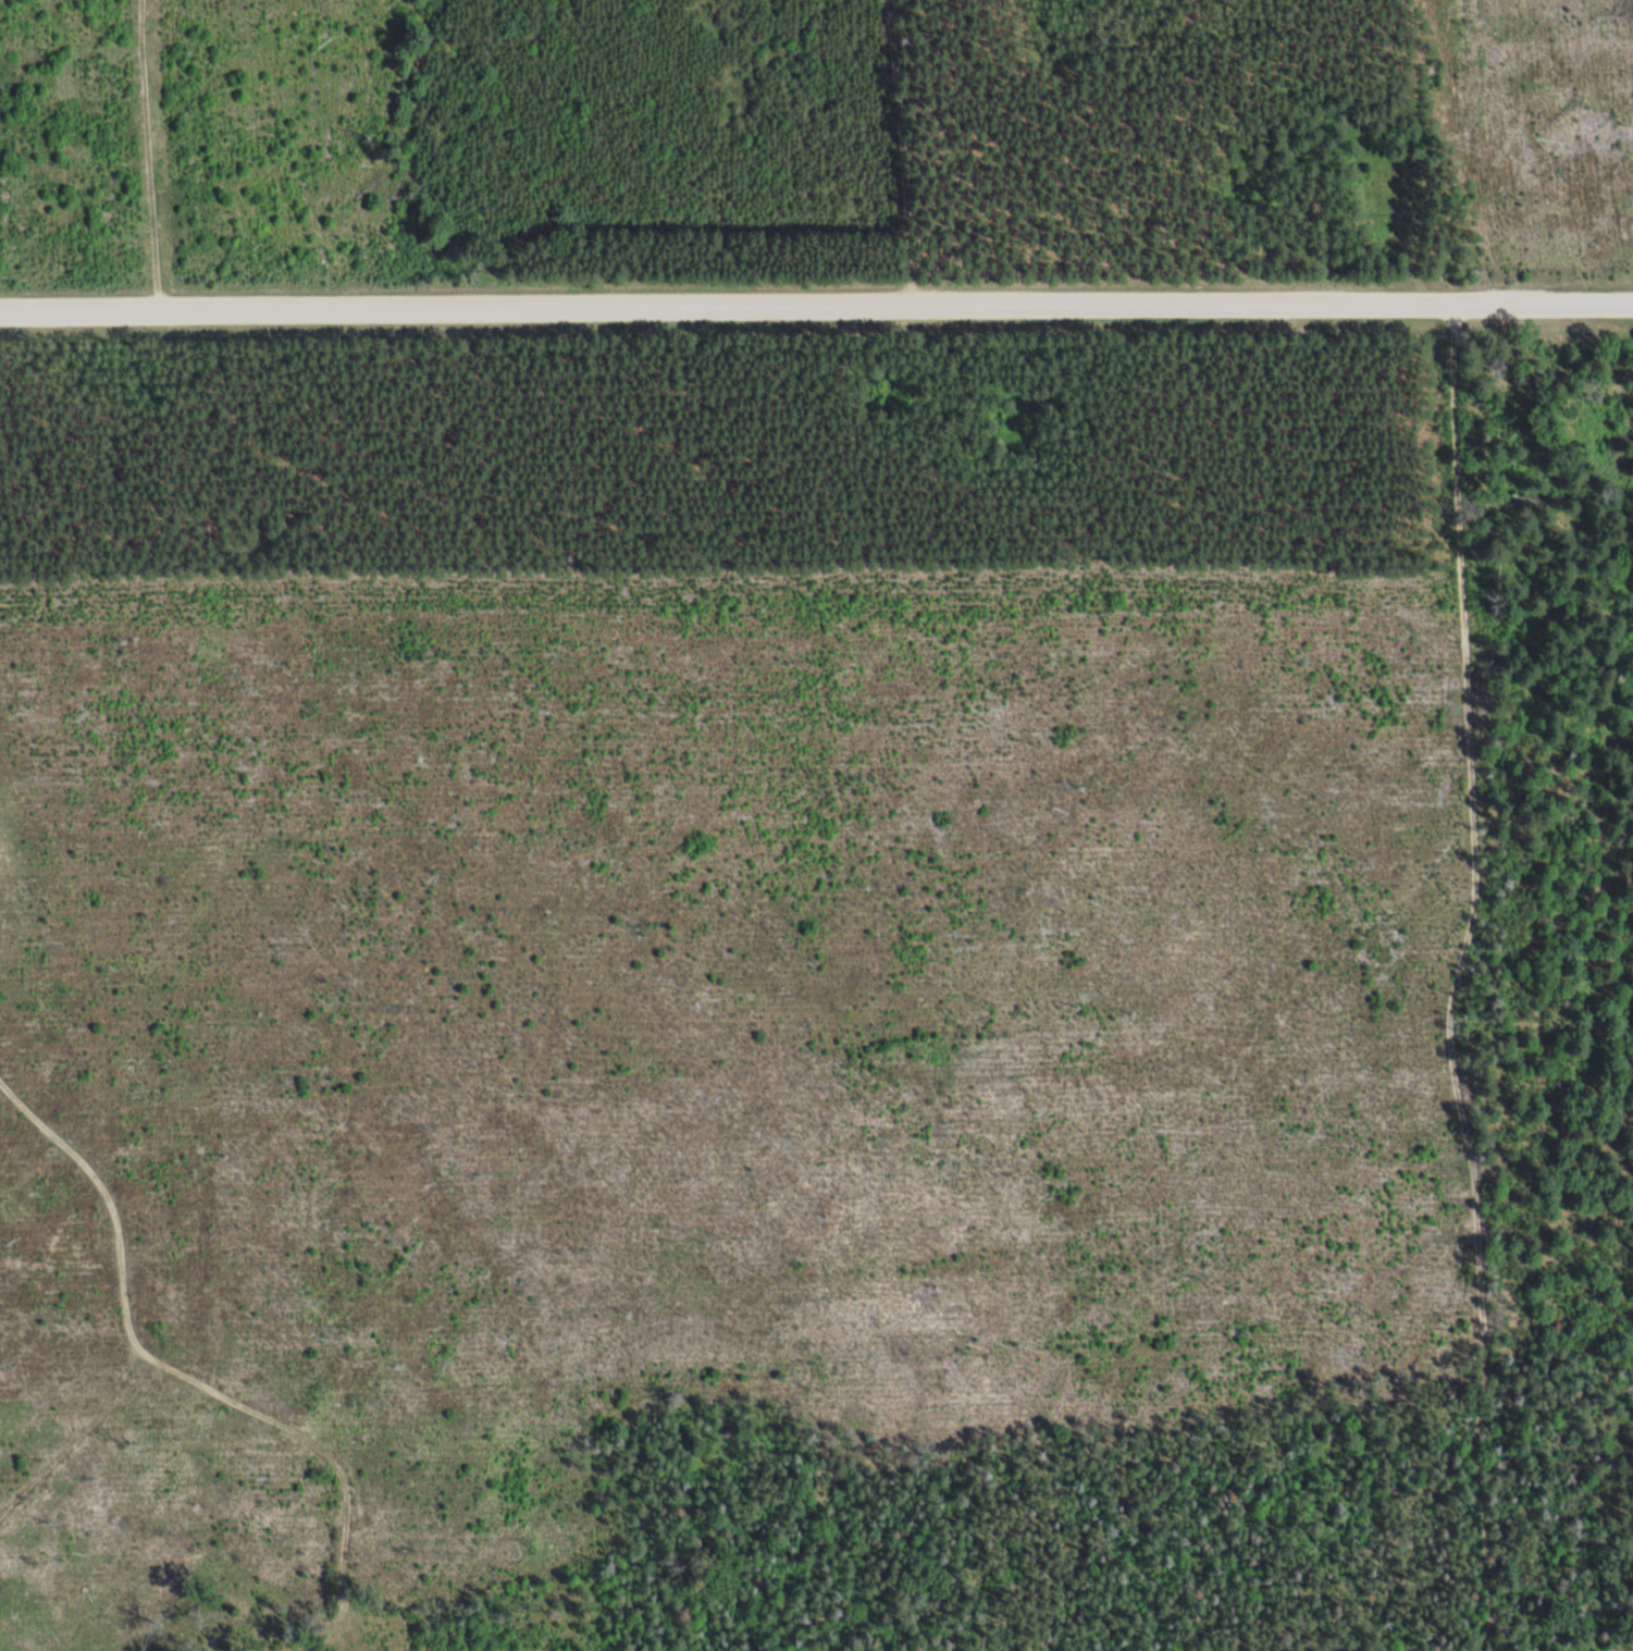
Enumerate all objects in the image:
road: (896, 152)
road: (816, 303)
road: (1459, 977)

